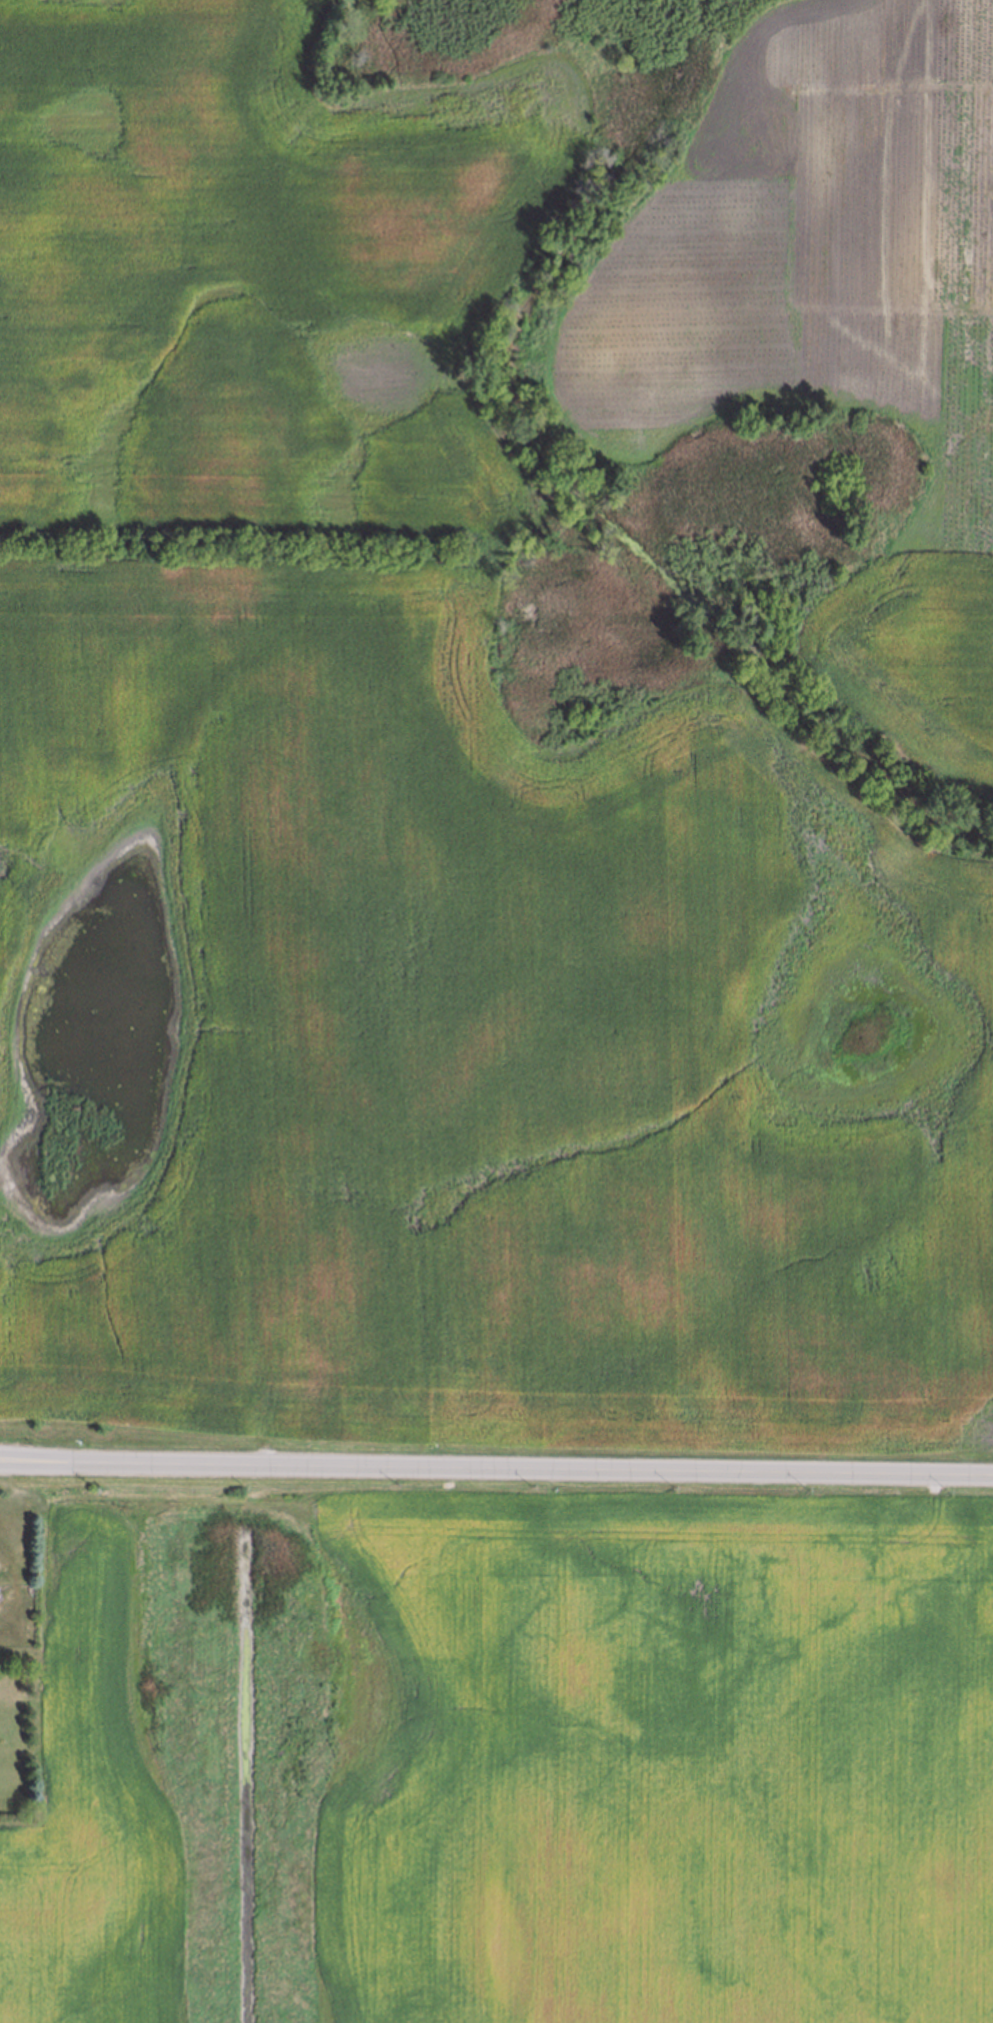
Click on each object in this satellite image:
road: (496, 1467)

